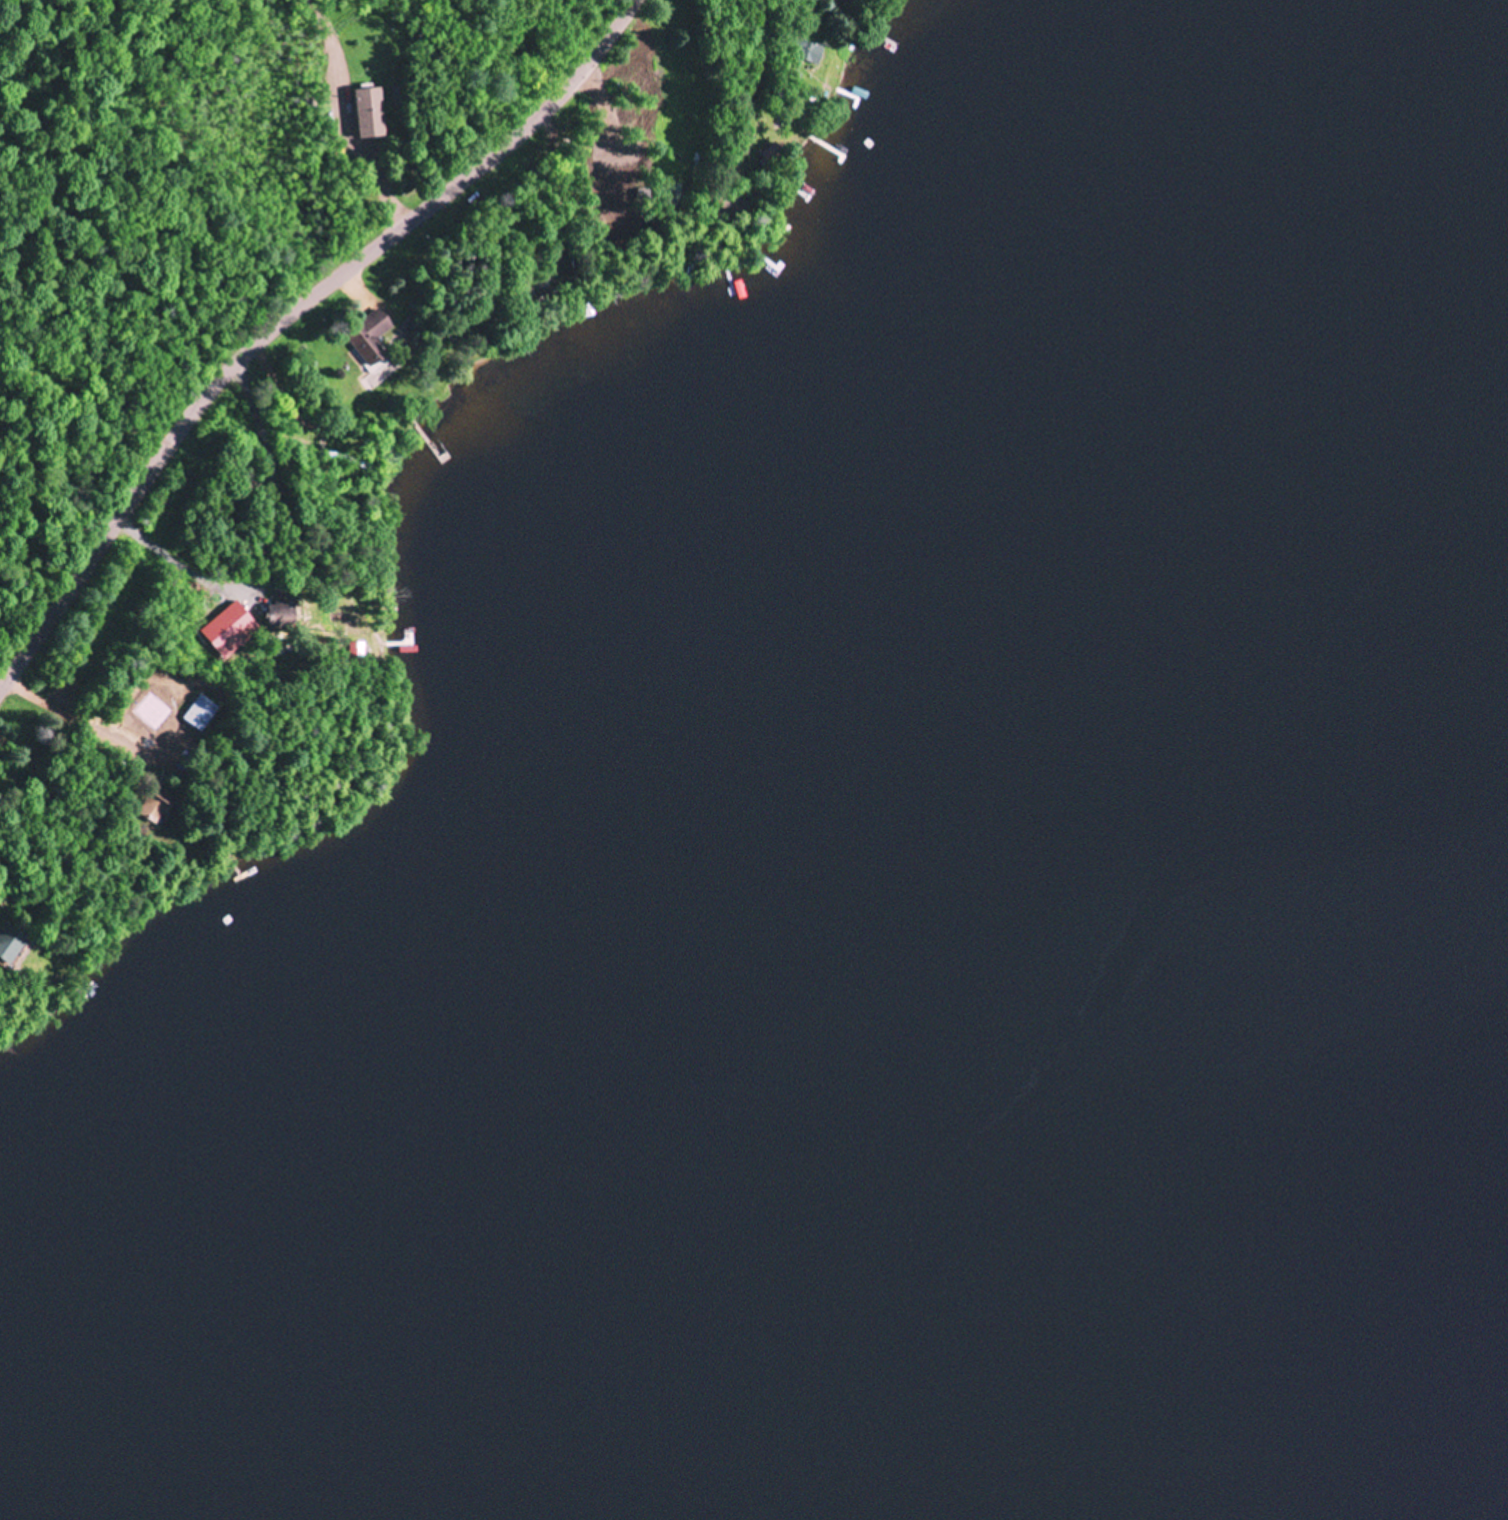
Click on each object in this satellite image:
building: (808, 53)
building: (372, 114)
road: (290, 317)
building: (374, 340)
road: (279, 559)
building: (202, 715)
road: (84, 727)
building: (160, 808)
building: (12, 946)

